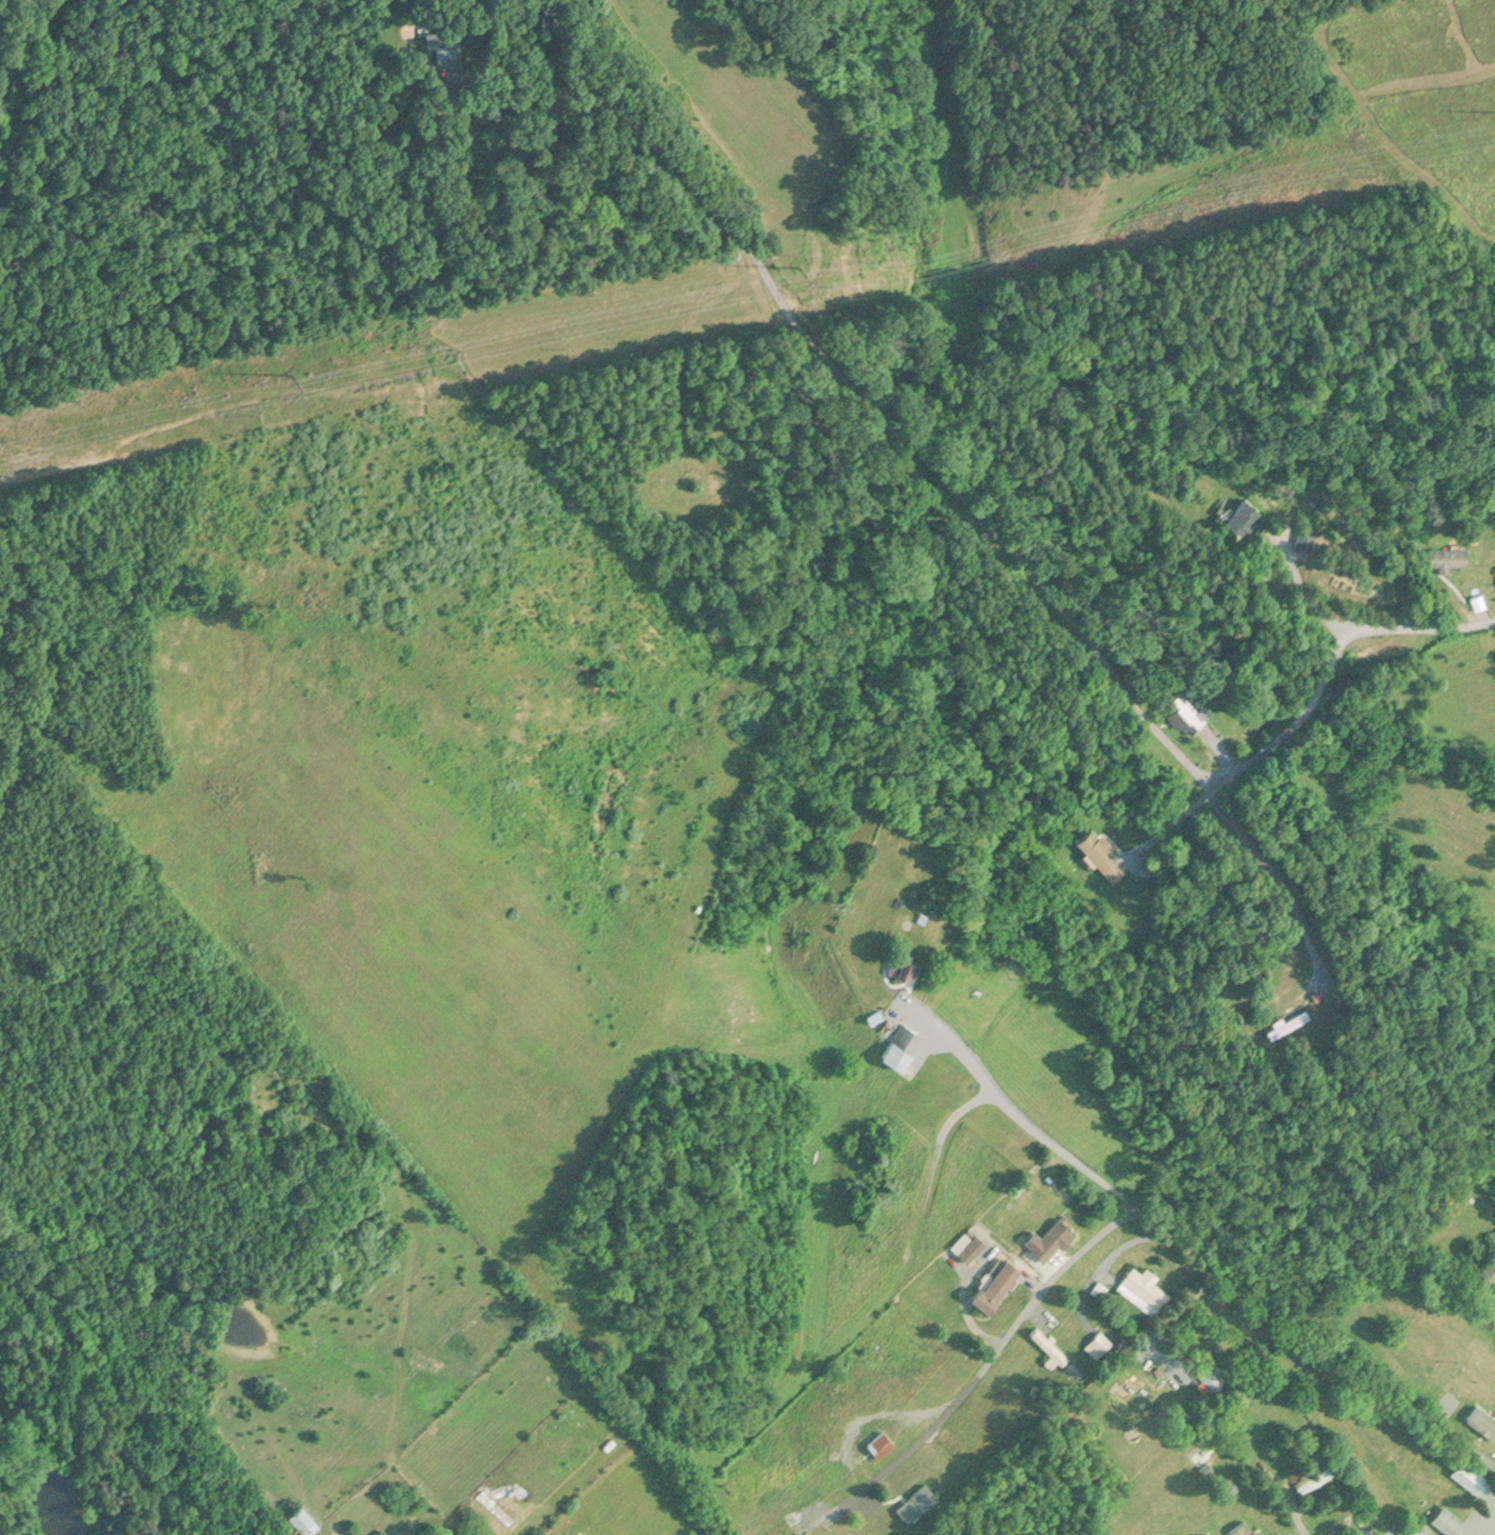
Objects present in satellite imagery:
power tower: (795, 272)
road: (811, 345)
power tower: (290, 375)
road: (1303, 591)
road: (1315, 682)
road: (1274, 877)
road: (1013, 1112)
road: (1131, 1207)
road: (1126, 1243)
road: (1173, 1308)
road: (1298, 1517)

